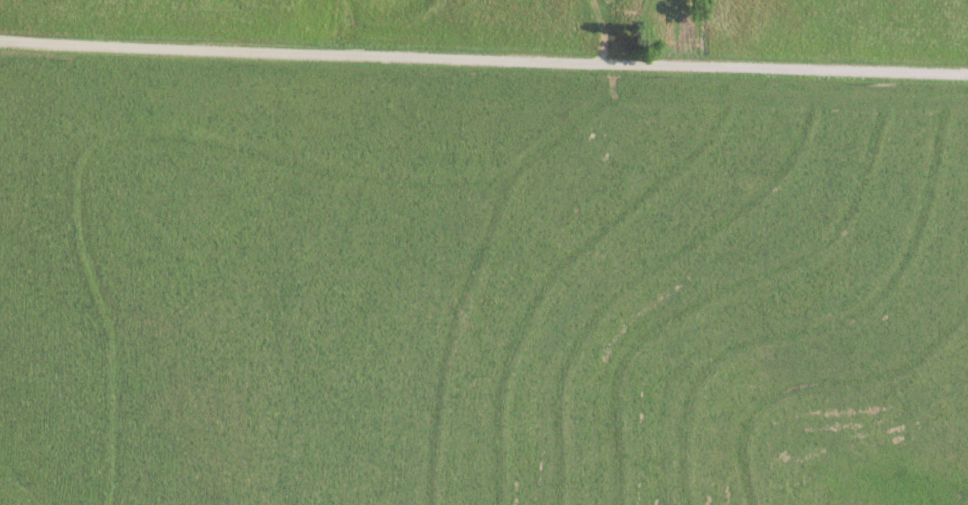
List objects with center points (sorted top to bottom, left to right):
road: (483, 63)

